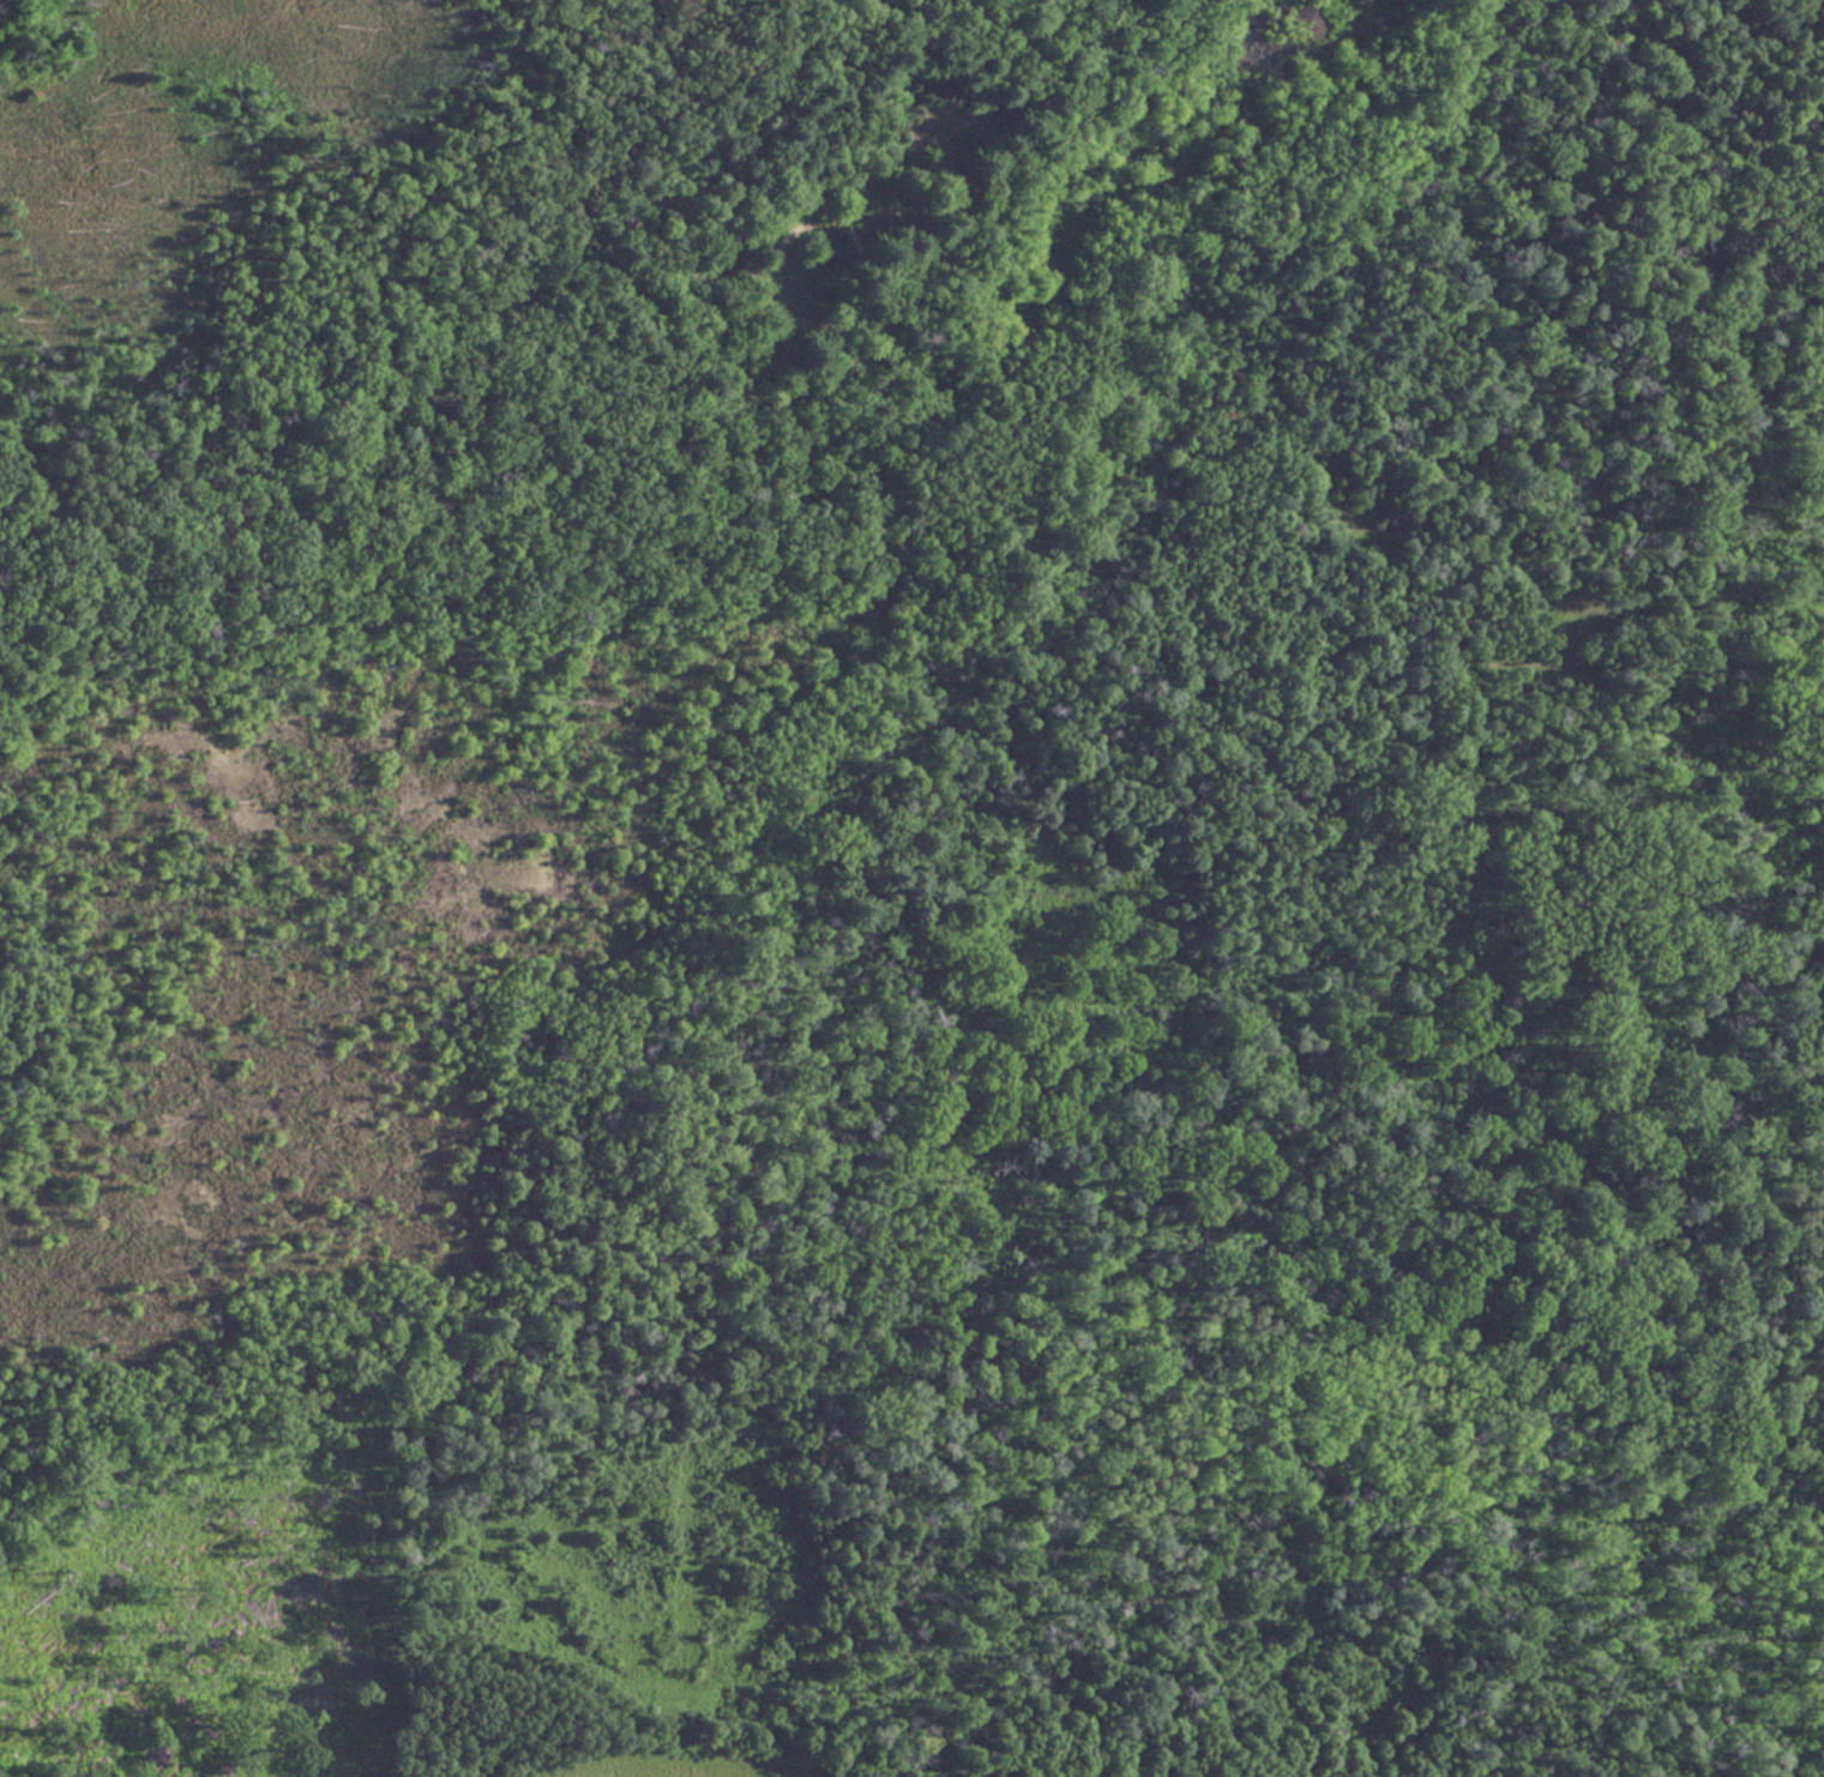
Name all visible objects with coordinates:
park: (662, 681)

